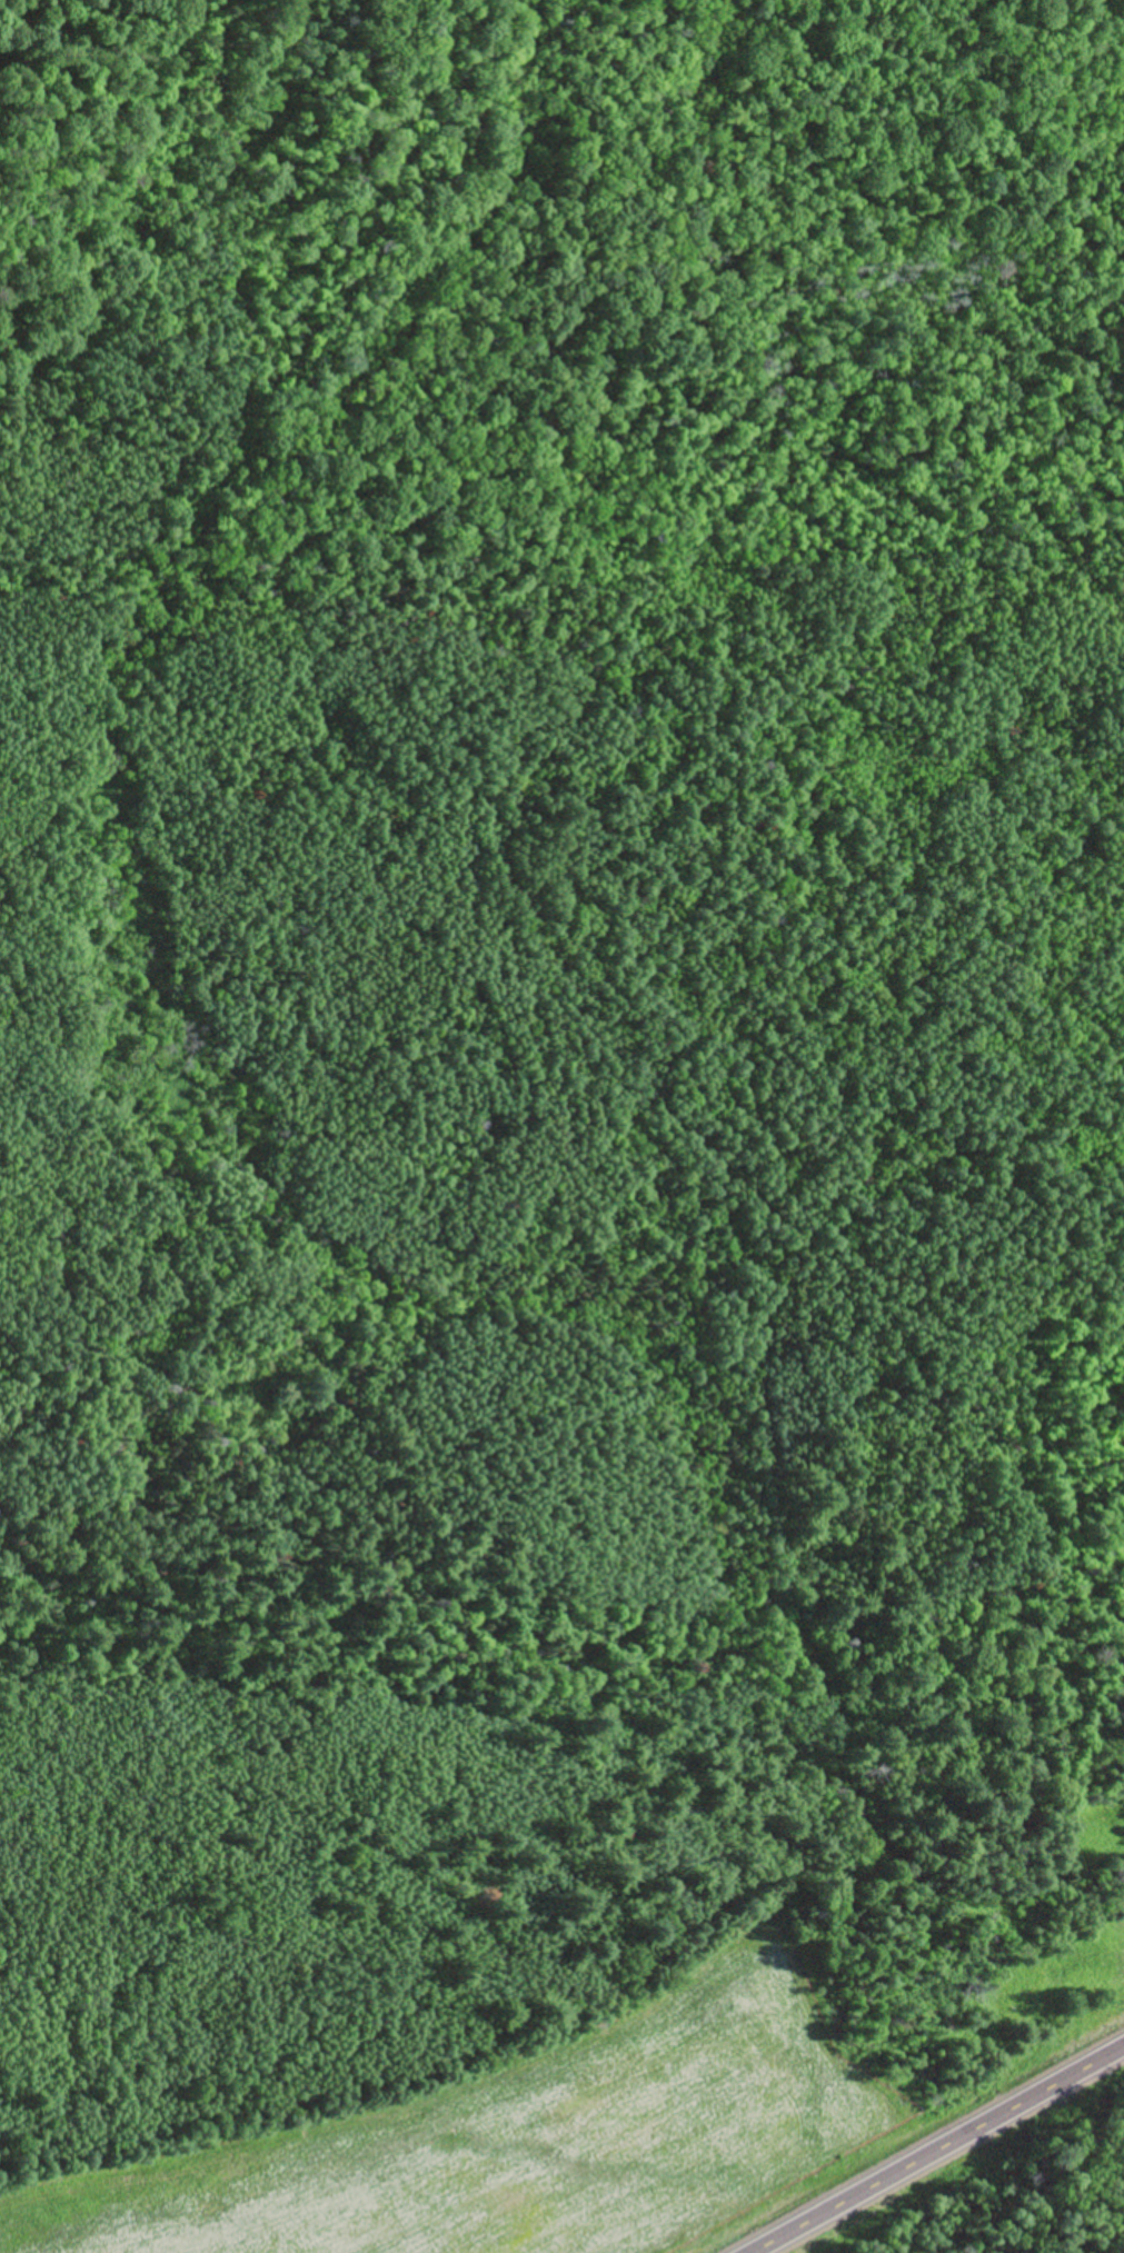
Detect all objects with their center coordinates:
road: (935, 2149)

